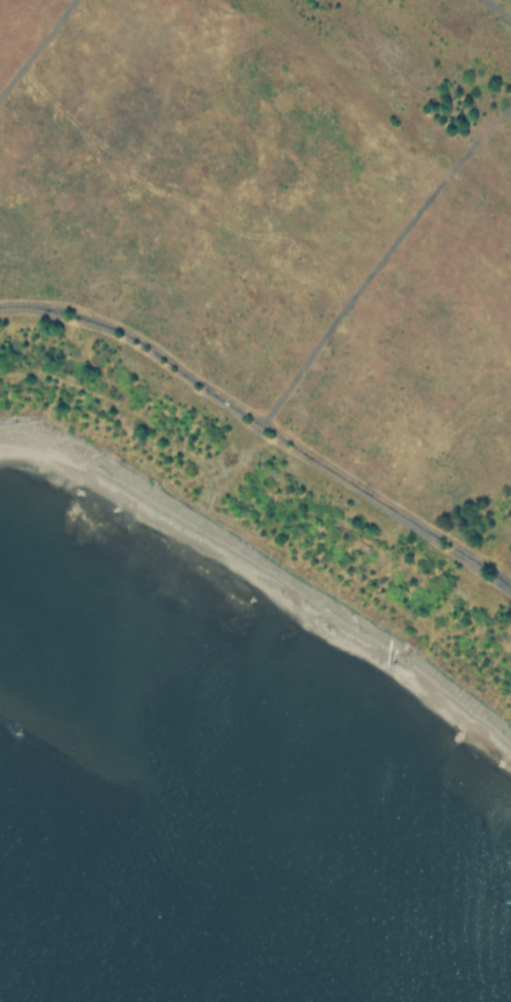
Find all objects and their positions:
road: (497, 9)
road: (37, 45)
road: (381, 257)
road: (264, 420)

